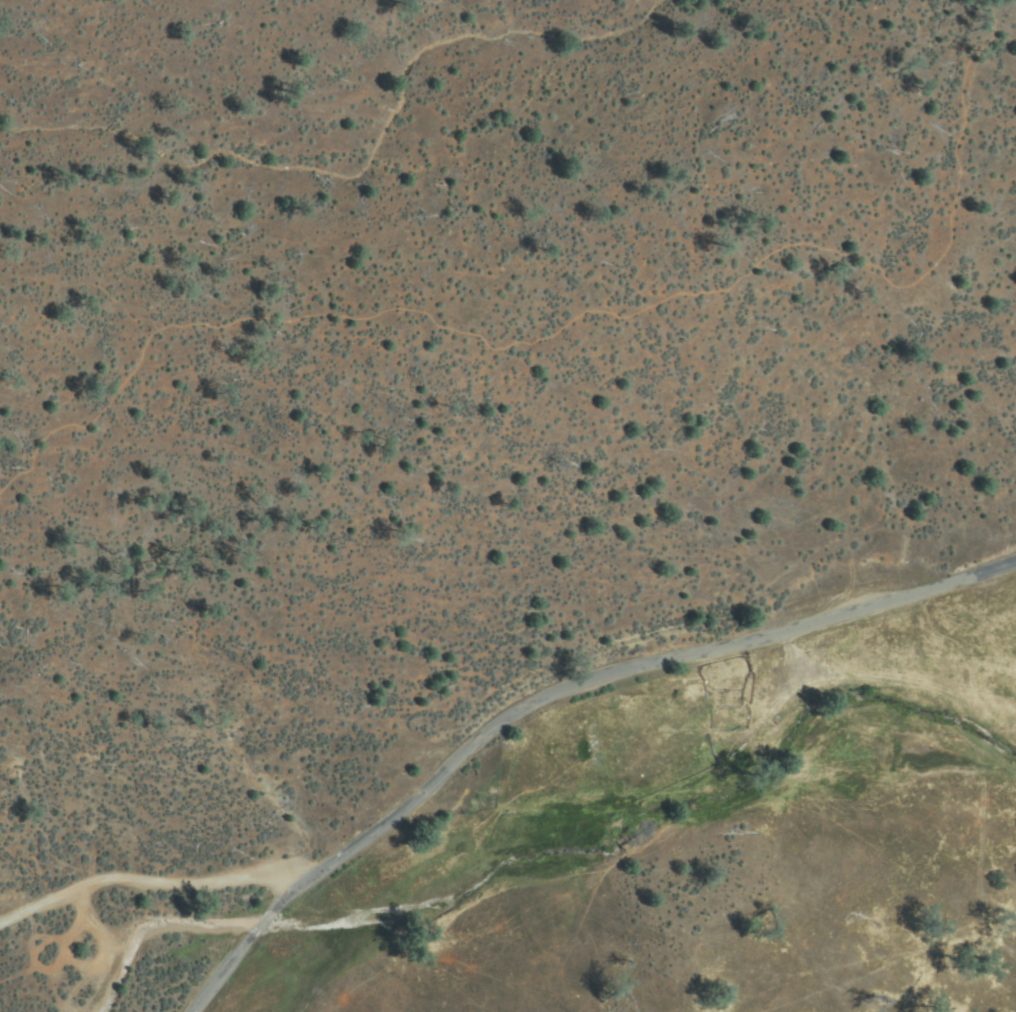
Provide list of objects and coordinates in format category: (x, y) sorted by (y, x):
road: (571, 318)
road: (538, 683)
road: (137, 880)

